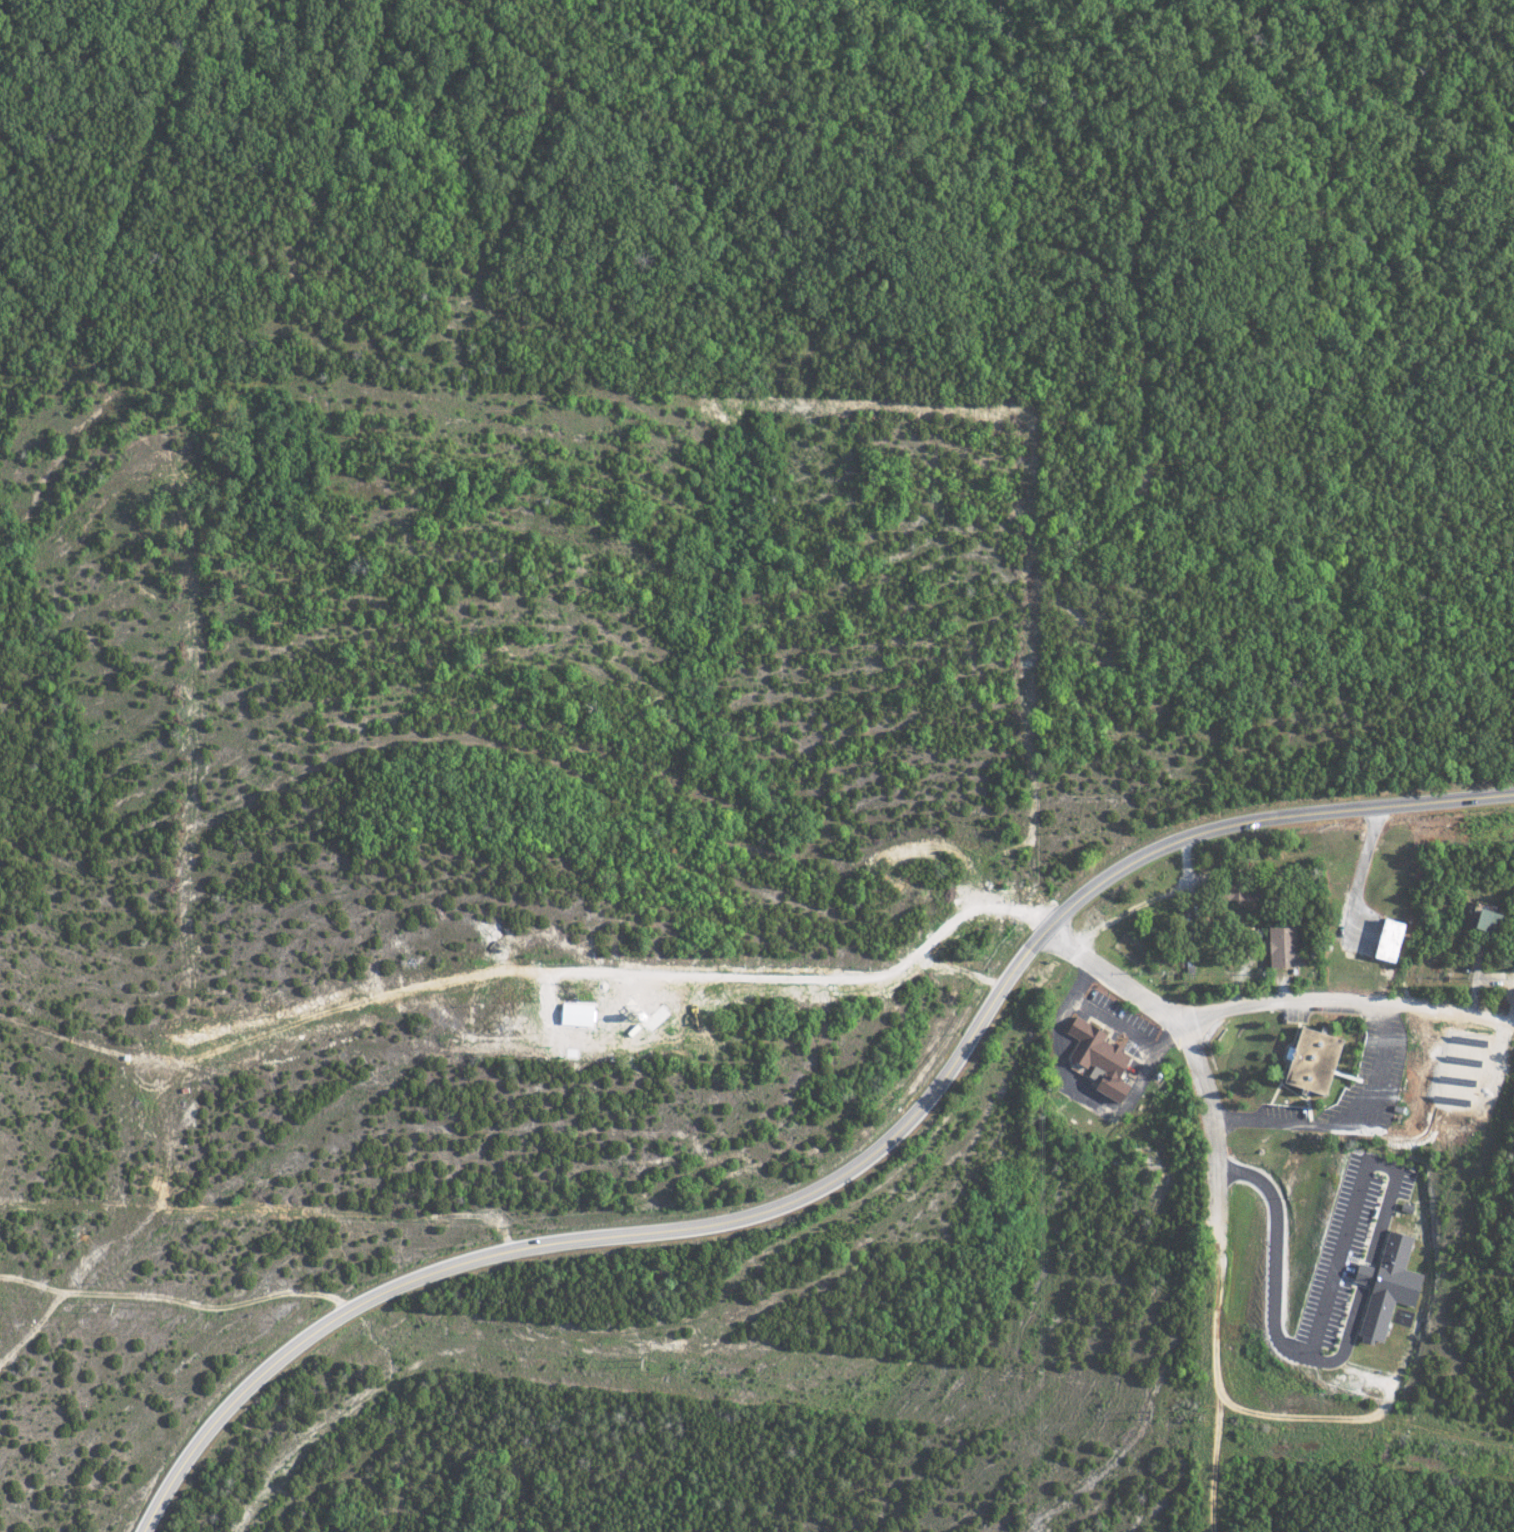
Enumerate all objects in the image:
building: (1484, 920)
building: (1386, 940)
building: (1281, 946)
road: (814, 978)
road: (1343, 998)
building: (573, 1014)
building: (1095, 1060)
building: (1308, 1060)
road: (1148, 1097)
road: (1348, 1120)
road: (840, 1173)
road: (1219, 1196)
road: (1354, 1201)
road: (1366, 1273)
building: (1387, 1287)
power tower: (117, 1307)
road: (1271, 1309)
power tower: (646, 1363)
power tower: (1153, 1415)

